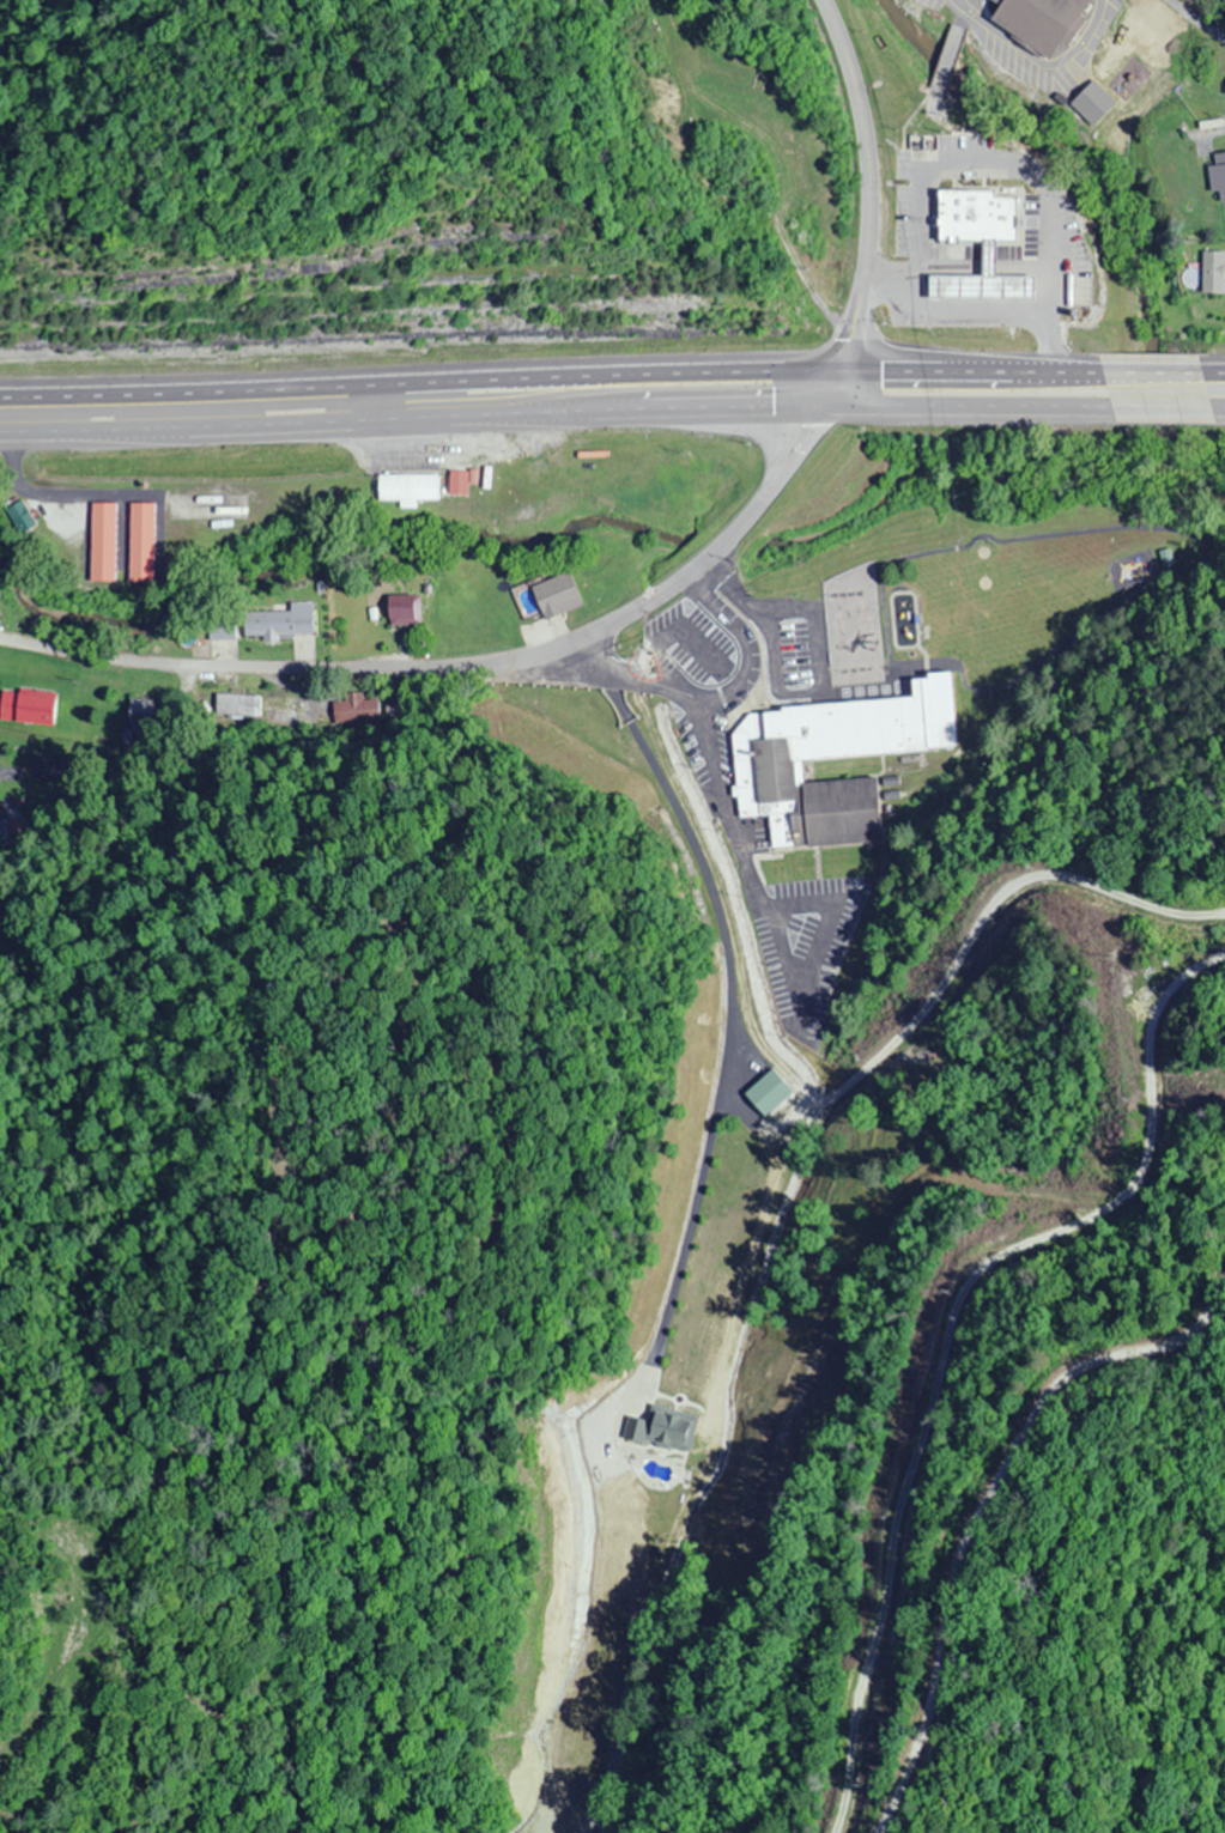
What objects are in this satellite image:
road: (956, 13)
road: (1194, 20)
building: (1037, 22)
building: (1140, 36)
road: (944, 61)
park: (745, 63)
building: (1088, 108)
building: (1215, 175)
road: (865, 184)
building: (975, 218)
building: (1211, 271)
building: (982, 279)
gas station: (982, 279)
road: (969, 372)
road: (1148, 372)
road: (1211, 372)
traffic signals: (839, 374)
road: (419, 386)
road: (831, 394)
traffic signals: (823, 414)
road: (963, 414)
road: (1154, 415)
road: (1215, 417)
road: (724, 419)
road: (313, 436)
building: (407, 488)
building: (18, 518)
building: (102, 542)
building: (141, 542)
building: (554, 597)
building: (401, 615)
building: (278, 625)
building: (220, 631)
road: (459, 669)
road: (709, 705)
building: (231, 708)
building: (26, 710)
building: (140, 716)
building: (348, 718)
building: (49, 769)
building: (762, 772)
road: (723, 1025)
road: (841, 1097)
building: (765, 1098)
road: (946, 1331)
road: (723, 1410)
building: (673, 1424)
building: (635, 1432)
road: (983, 1506)

